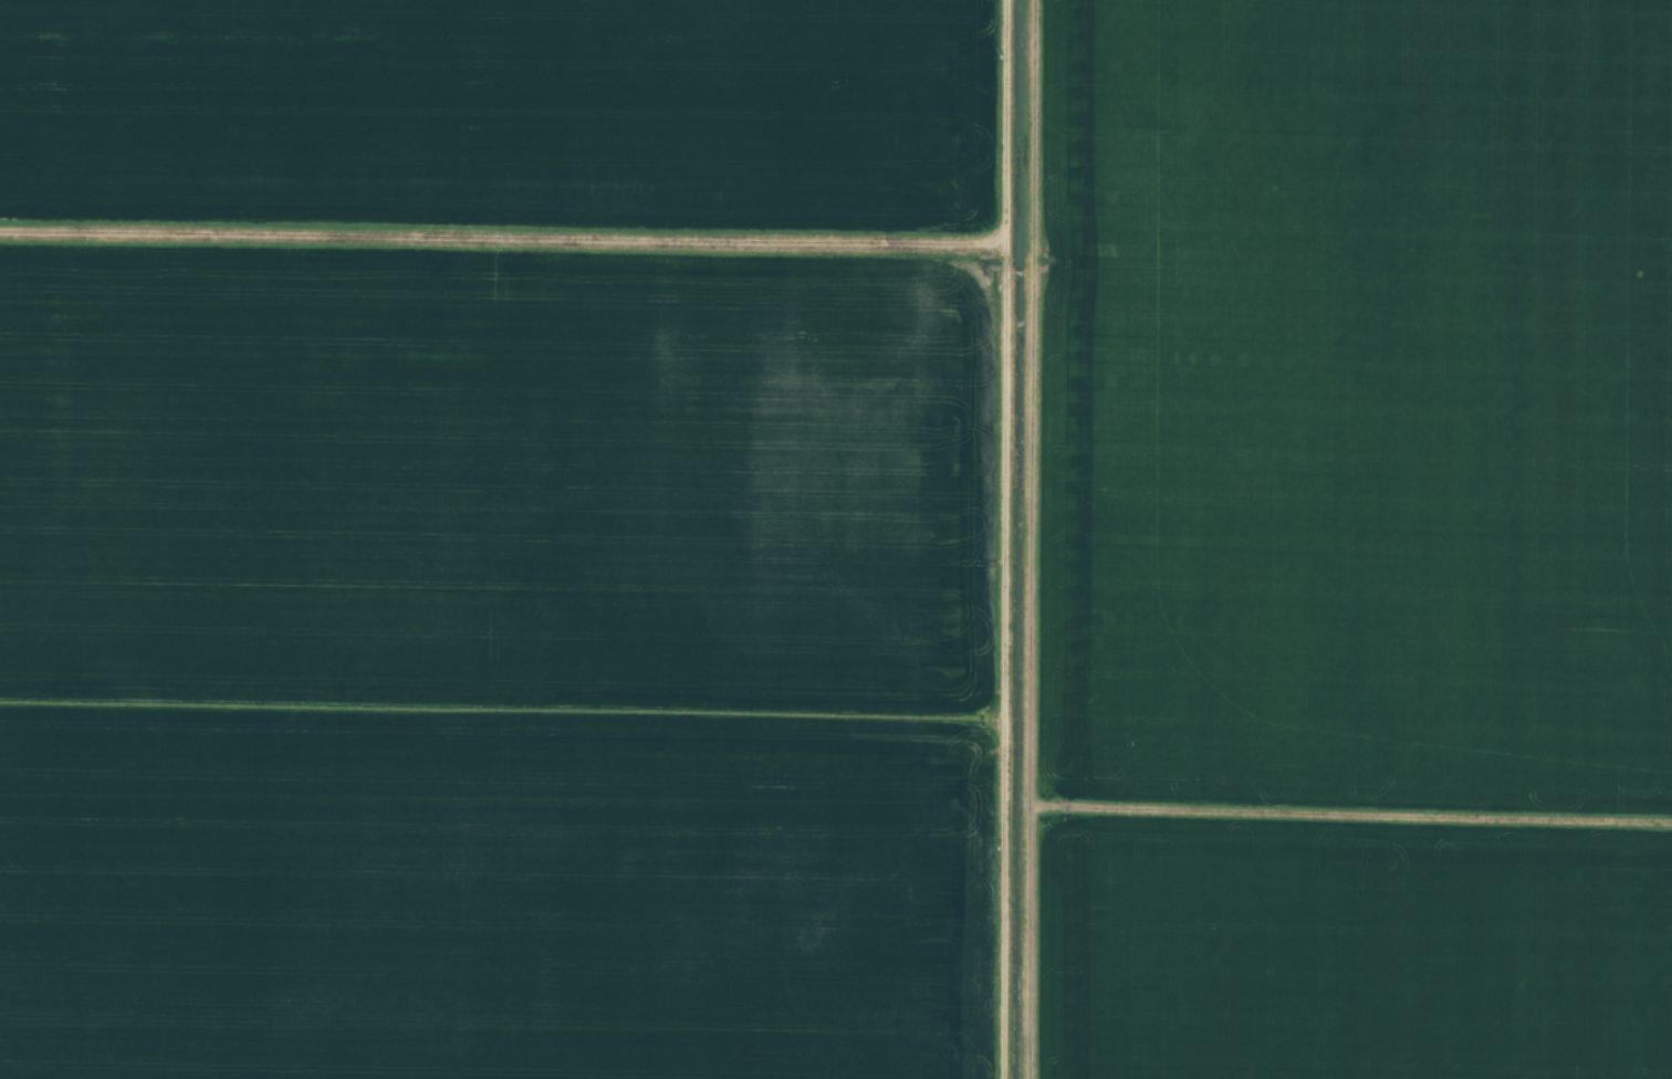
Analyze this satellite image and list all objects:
crop: (500, 116)
crop: (1346, 950)

